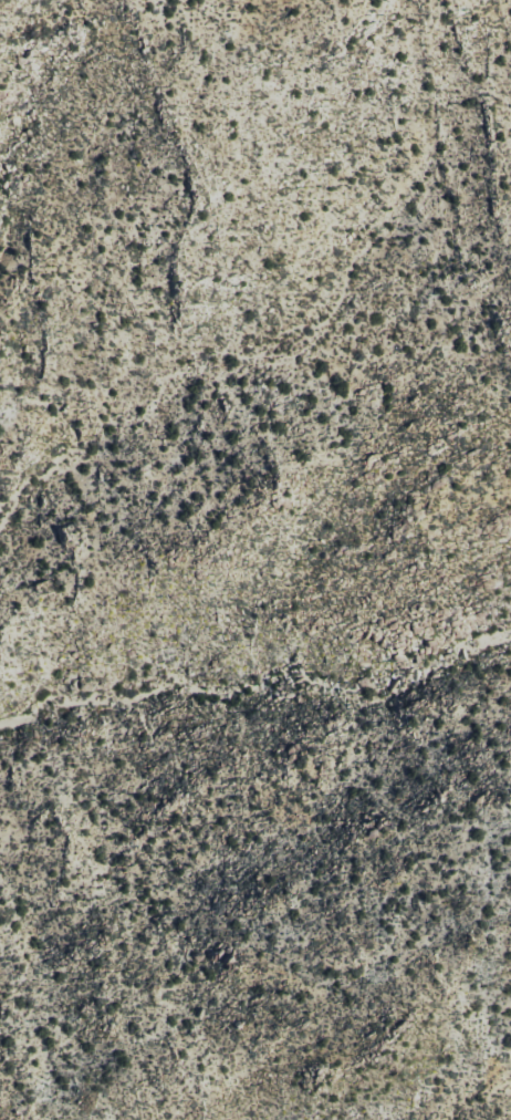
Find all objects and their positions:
road: (13, 719)

